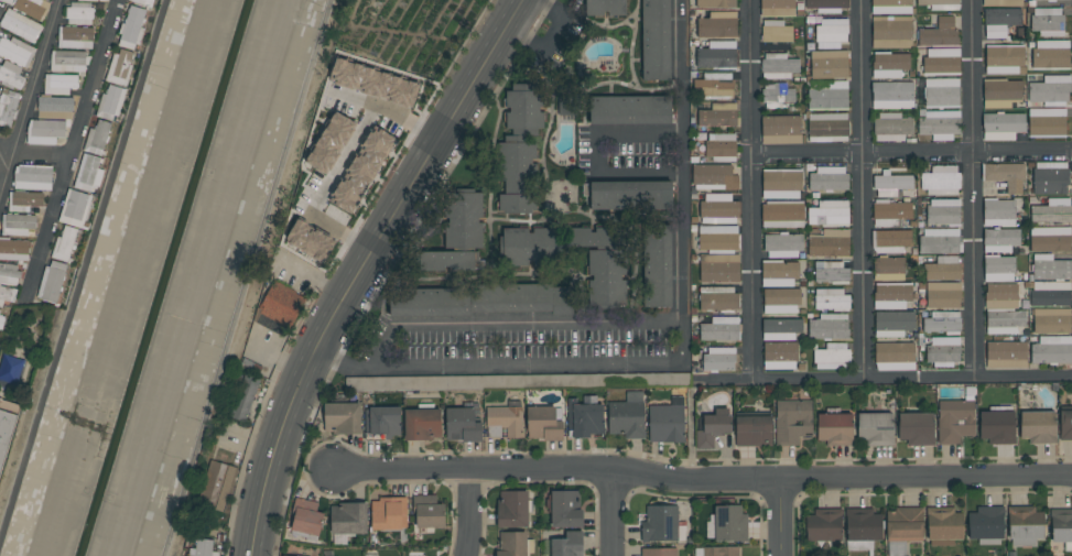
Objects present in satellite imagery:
building: (91, 0)
building: (1055, 0)
building: (7, 1)
building: (143, 2)
building: (1001, 2)
building: (715, 3)
building: (940, 4)
building: (827, 6)
building: (890, 7)
building: (33, 8)
building: (605, 8)
building: (777, 8)
building: (79, 13)
building: (999, 21)
building: (1047, 21)
building: (21, 25)
building: (717, 25)
building: (132, 28)
building: (832, 30)
building: (776, 31)
building: (891, 32)
building: (939, 33)
building: (76, 37)
building: (654, 40)
building: (17, 52)
building: (1050, 54)
building: (717, 55)
building: (1003, 58)
building: (69, 61)
building: (941, 61)
building: (829, 64)
building: (889, 65)
building: (779, 66)
building: (120, 68)
building: (11, 75)
building: (373, 83)
building: (61, 84)
building: (713, 86)
building: (1050, 91)
road: (29, 92)
building: (941, 92)
building: (1000, 92)
building: (777, 96)
building: (827, 96)
building: (891, 96)
road: (351, 99)
building: (110, 102)
building: (8, 107)
building: (52, 107)
building: (564, 107)
building: (629, 110)
building: (717, 116)
road: (405, 118)
building: (1046, 122)
building: (939, 124)
building: (1001, 126)
building: (827, 128)
building: (891, 128)
building: (780, 130)
building: (45, 131)
building: (98, 138)
building: (331, 143)
road: (72, 144)
building: (719, 148)
building: (519, 149)
road: (4, 151)
road: (594, 155)
road: (39, 156)
road: (909, 157)
building: (361, 170)
building: (89, 173)
building: (1005, 175)
building: (33, 176)
building: (713, 177)
building: (1050, 178)
building: (827, 179)
building: (940, 181)
building: (781, 184)
building: (891, 184)
road: (972, 188)
road: (748, 189)
road: (862, 189)
road: (324, 190)
building: (630, 195)
building: (24, 200)
building: (75, 209)
building: (718, 209)
building: (943, 211)
building: (1052, 211)
building: (890, 212)
building: (998, 212)
building: (782, 214)
building: (829, 214)
building: (463, 220)
building: (19, 225)
building: (1050, 239)
building: (310, 240)
building: (999, 240)
building: (890, 241)
building: (939, 241)
building: (829, 243)
building: (66, 244)
building: (782, 246)
building: (14, 249)
building: (521, 253)
building: (718, 253)
building: (450, 261)
building: (1050, 268)
road: (83, 269)
road: (361, 269)
building: (657, 269)
building: (888, 269)
building: (942, 269)
building: (998, 269)
building: (831, 273)
building: (9, 274)
building: (779, 274)
road: (246, 277)
road: (313, 277)
building: (604, 279)
building: (53, 282)
building: (1050, 294)
building: (7, 295)
building: (943, 295)
building: (891, 296)
building: (1000, 296)
building: (717, 298)
building: (832, 299)
building: (780, 301)
building: (479, 303)
building: (279, 307)
building: (0, 310)
building: (1051, 320)
building: (1, 321)
building: (1005, 321)
road: (516, 323)
building: (942, 323)
building: (892, 324)
building: (829, 327)
building: (719, 329)
building: (780, 329)
building: (1052, 350)
building: (942, 351)
building: (1006, 355)
building: (780, 356)
building: (894, 356)
building: (832, 357)
building: (718, 359)
road: (678, 363)
building: (11, 369)
road: (884, 378)
building: (246, 397)
building: (584, 416)
building: (627, 416)
building: (342, 418)
building: (382, 421)
building: (792, 421)
building: (954, 421)
building: (503, 422)
building: (667, 422)
building: (543, 423)
building: (422, 424)
building: (1065, 424)
building: (462, 425)
building: (7, 426)
building: (997, 427)
building: (1037, 427)
building: (713, 428)
building: (875, 428)
building: (916, 428)
building: (835, 429)
building: (752, 430)
road: (703, 481)
building: (218, 487)
building: (564, 509)
building: (512, 510)
road: (469, 511)
building: (427, 512)
road: (615, 513)
building: (388, 514)
building: (306, 517)
road: (779, 517)
building: (348, 519)
building: (726, 524)
building: (662, 525)
building: (824, 525)
building: (903, 525)
building: (986, 525)
building: (1025, 525)
building: (943, 526)
building: (1061, 527)
building: (862, 528)
building: (511, 544)
building: (566, 545)
building: (204, 548)
building: (719, 550)
building: (658, 552)
building: (282, 555)

